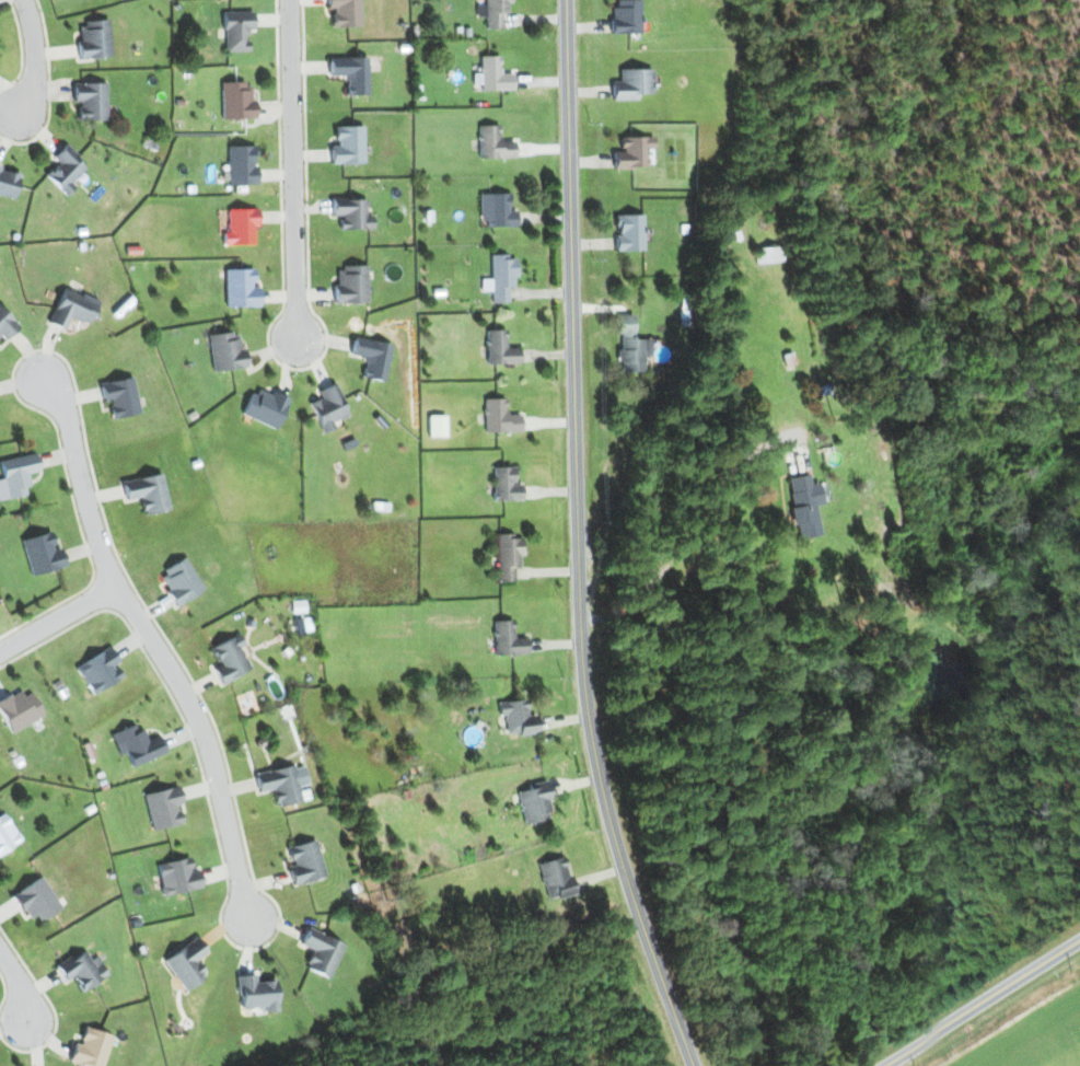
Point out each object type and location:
building: (345, 12)
building: (491, 12)
building: (625, 16)
building: (236, 30)
building: (93, 39)
road: (31, 56)
building: (350, 73)
building: (492, 74)
building: (631, 84)
building: (90, 101)
building: (236, 101)
building: (492, 143)
building: (348, 146)
building: (632, 152)
building: (0, 165)
building: (241, 165)
road: (302, 167)
building: (65, 170)
building: (8, 183)
building: (496, 210)
building: (350, 213)
building: (240, 227)
building: (628, 232)
building: (769, 254)
building: (501, 277)
building: (350, 285)
building: (240, 288)
building: (71, 308)
building: (5, 325)
building: (629, 345)
building: (499, 348)
building: (225, 351)
building: (371, 357)
building: (119, 396)
building: (264, 407)
building: (327, 407)
building: (499, 417)
building: (15, 475)
building: (504, 484)
building: (146, 493)
building: (804, 506)
road: (692, 530)
road: (579, 541)
building: (40, 554)
building: (508, 556)
building: (179, 581)
road: (62, 619)
building: (507, 639)
road: (164, 641)
building: (229, 659)
building: (98, 671)
building: (18, 710)
building: (516, 717)
building: (136, 744)
building: (282, 784)
building: (534, 803)
building: (162, 807)
building: (7, 834)
building: (304, 862)
building: (177, 876)
building: (555, 878)
building: (35, 900)
building: (321, 952)
road: (3, 961)
building: (186, 963)
building: (81, 970)
road: (19, 984)
building: (257, 993)
road: (978, 1001)
building: (90, 1048)

